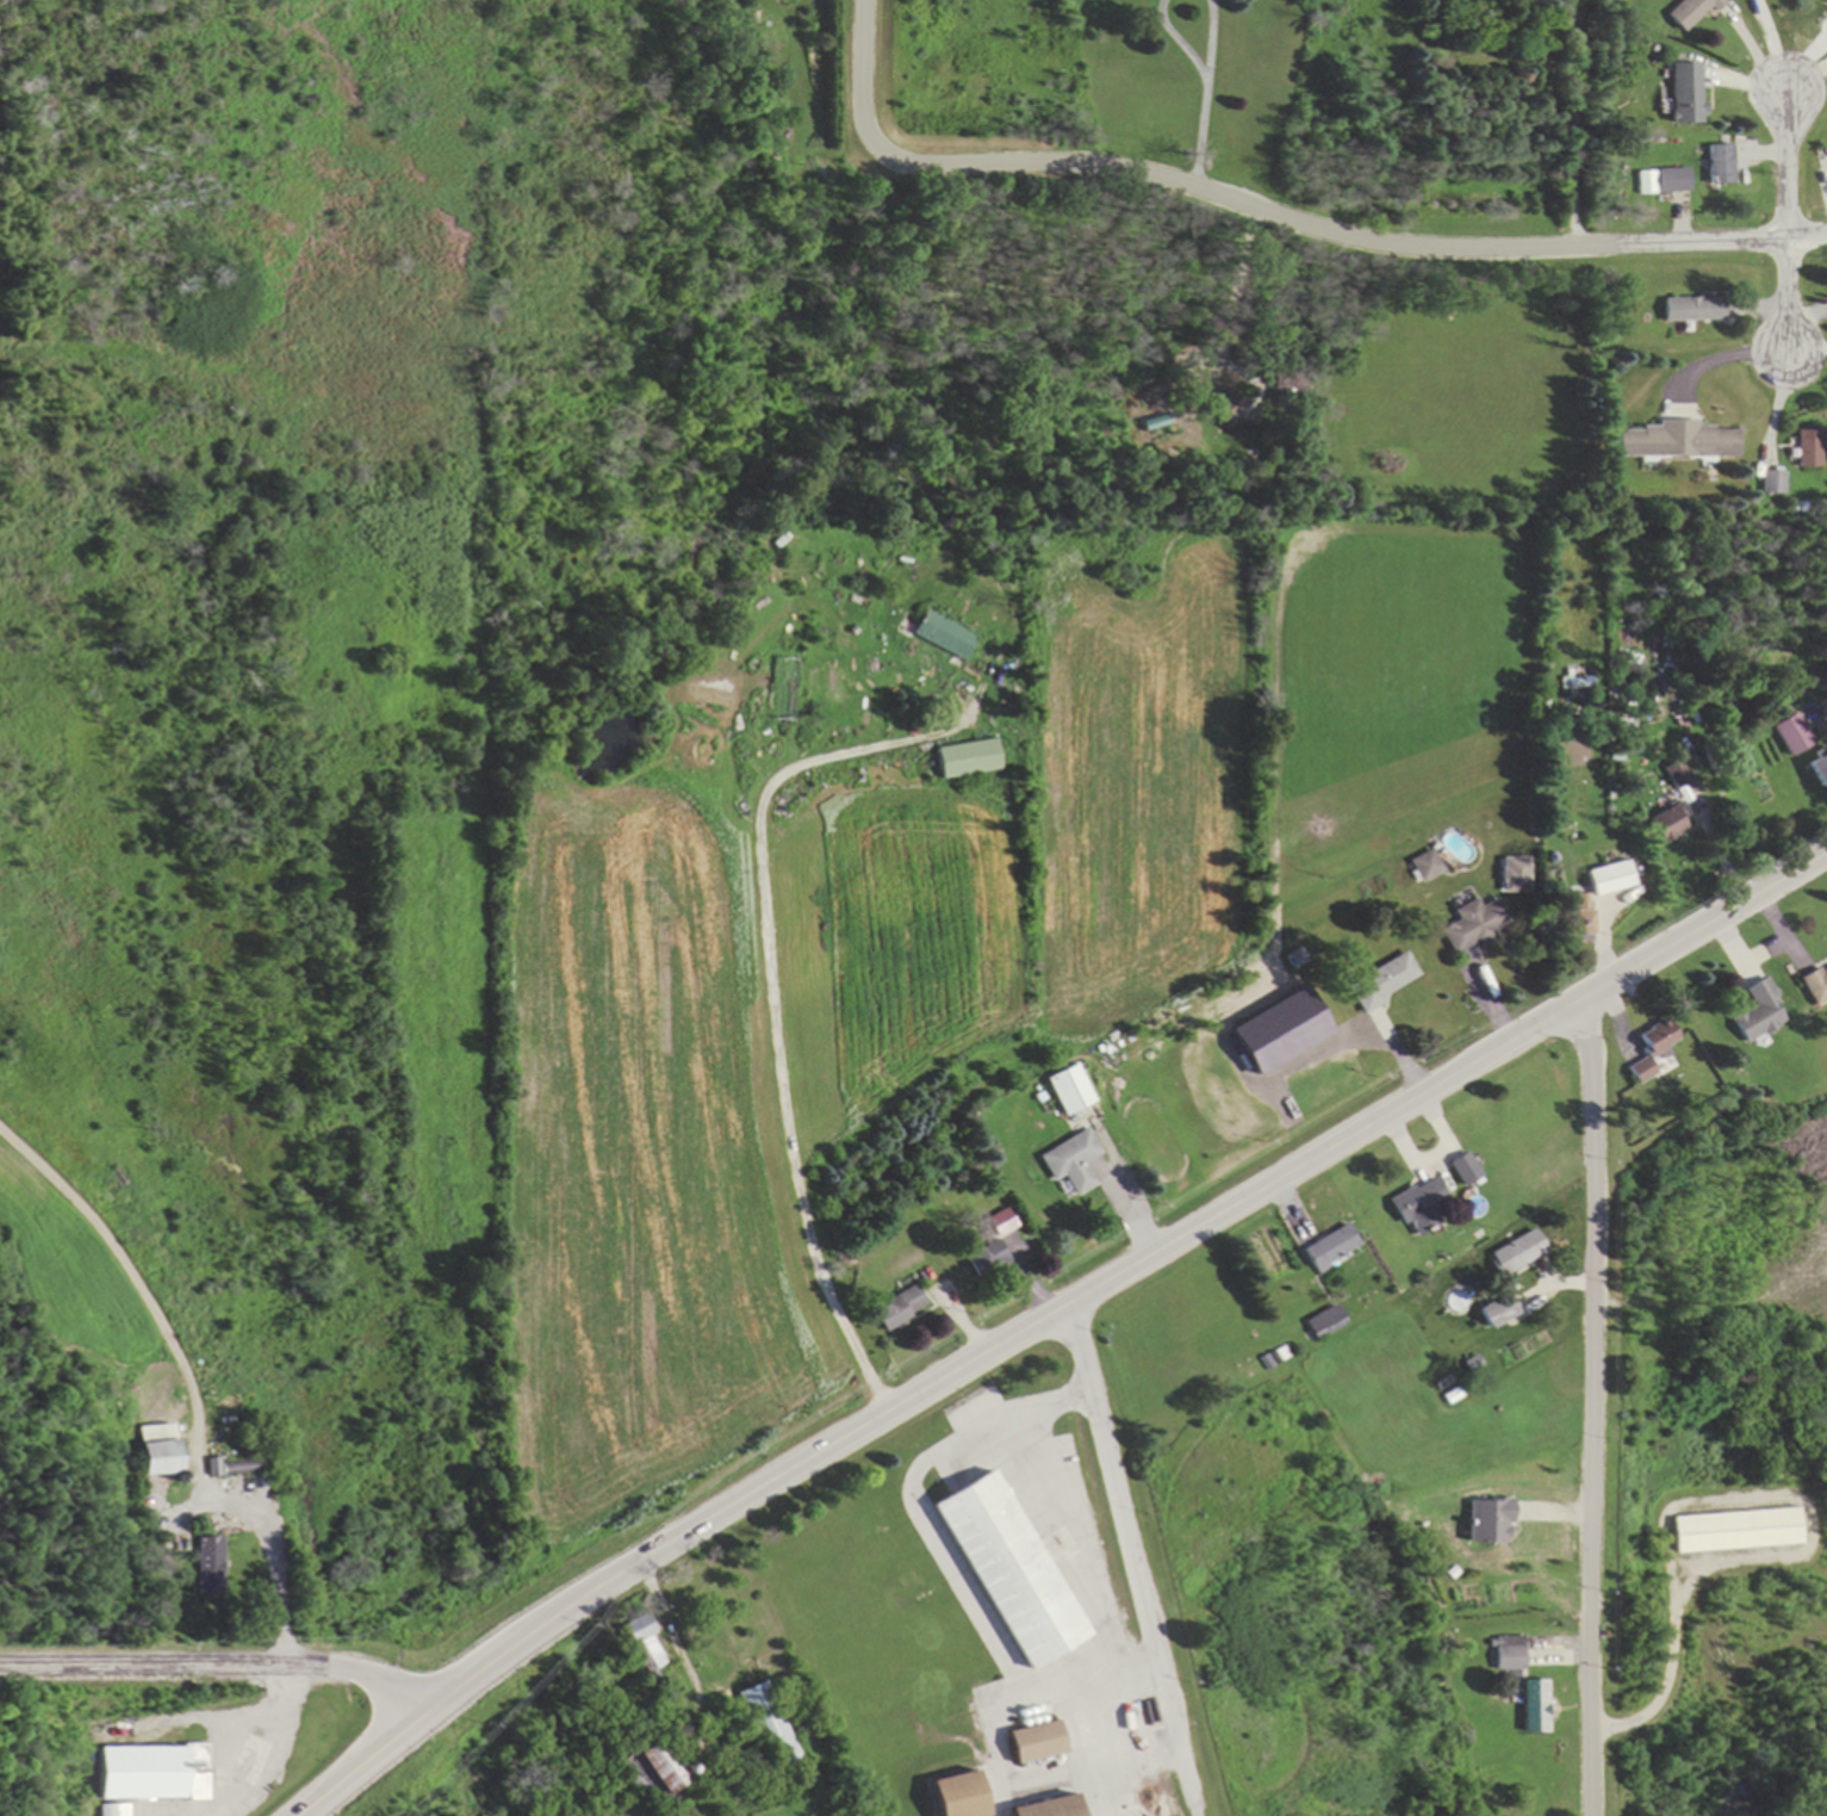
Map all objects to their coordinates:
building: (1825, 1)
building: (1689, 13)
building: (1683, 95)
road: (1785, 162)
building: (1717, 166)
building: (1671, 181)
road: (1180, 185)
road: (1730, 242)
road: (1789, 297)
building: (1694, 310)
building: (1223, 407)
building: (1673, 444)
building: (1808, 450)
building: (1772, 483)
building: (949, 637)
building: (1792, 735)
building: (969, 760)
building: (1819, 769)
building: (1678, 775)
building: (1668, 823)
building: (1428, 867)
building: (1610, 879)
building: (1579, 918)
road: (1709, 924)
building: (1474, 925)
building: (1384, 983)
building: (1815, 985)
building: (1757, 1014)
building: (1649, 1049)
building: (1069, 1091)
building: (1071, 1163)
building: (1462, 1170)
building: (1418, 1208)
building: (1000, 1222)
building: (1328, 1247)
building: (1514, 1253)
building: (986, 1259)
building: (897, 1308)
building: (1494, 1313)
building: (1324, 1324)
road: (1002, 1344)
road: (1590, 1405)
building: (151, 1451)
building: (1741, 1532)
road: (262, 1533)
road: (1132, 1556)
building: (205, 1567)
building: (1003, 1570)
building: (638, 1634)
building: (1506, 1654)
road: (220, 1667)
building: (1531, 1707)
building: (765, 1724)
building: (1029, 1743)
road: (366, 1766)
building: (658, 1767)
building: (149, 1772)
building: (950, 1796)
building: (1040, 1808)
building: (112, 1810)

